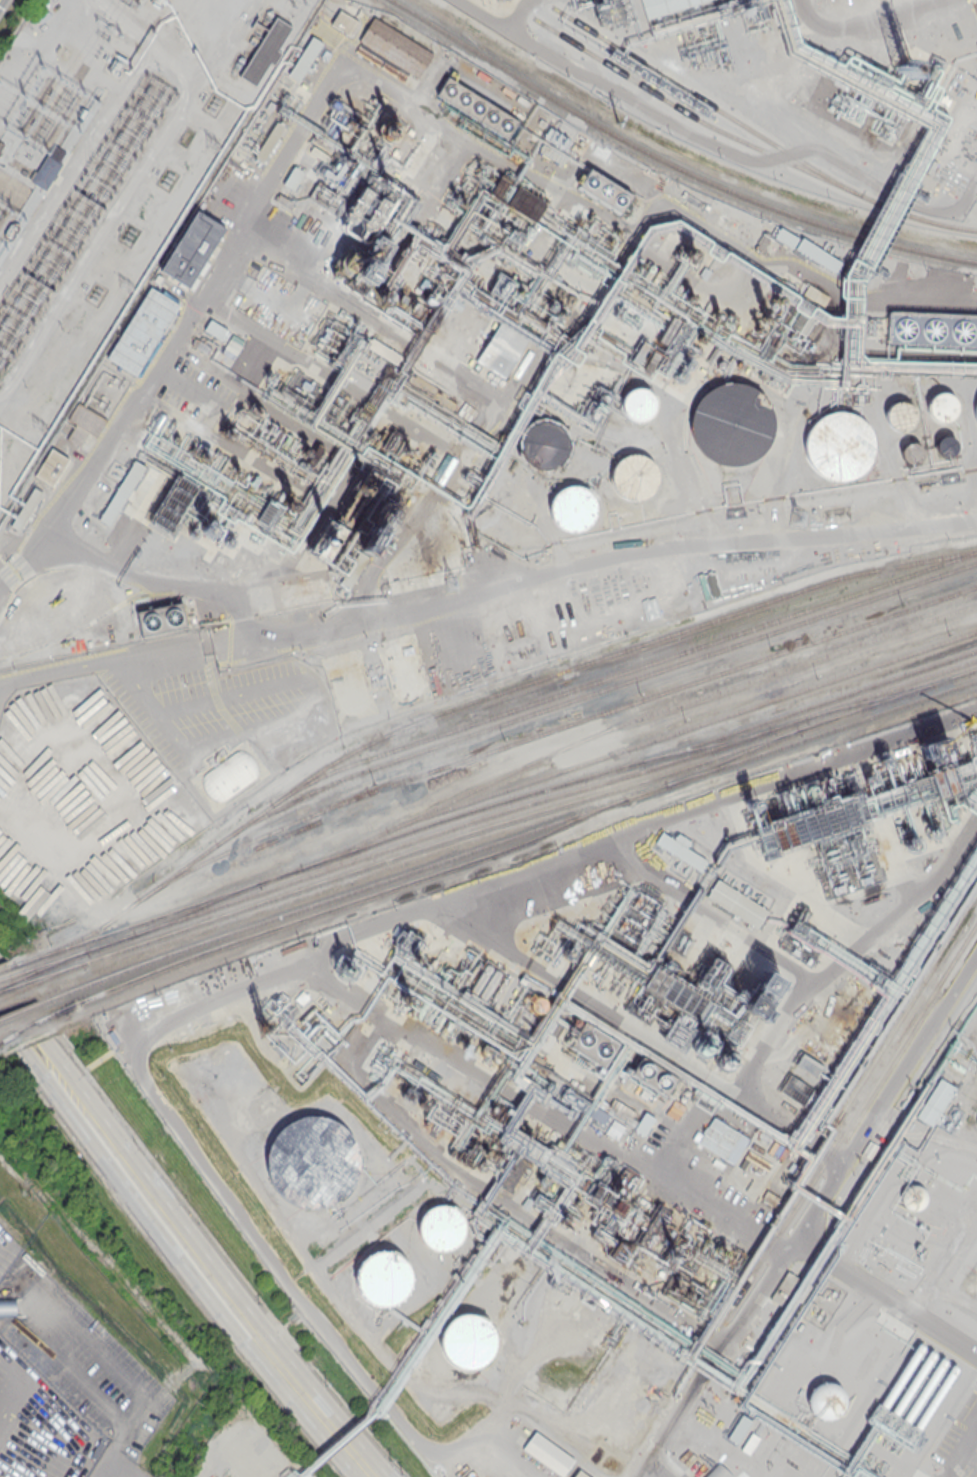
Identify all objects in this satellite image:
power tower: (300, 6)
building: (666, 6)
building: (344, 22)
building: (395, 48)
building: (265, 51)
building: (305, 59)
railway: (705, 101)
building: (475, 107)
power tower: (622, 123)
building: (270, 141)
building: (556, 142)
railway: (747, 142)
power tower: (212, 146)
railway: (670, 164)
building: (46, 171)
power substation: (106, 171)
building: (294, 176)
building: (604, 189)
building: (516, 198)
building: (276, 220)
building: (735, 225)
building: (785, 237)
building: (761, 243)
building: (193, 248)
building: (2, 254)
building: (817, 255)
power tower: (125, 285)
building: (141, 329)
building: (932, 329)
building: (501, 351)
building: (98, 401)
building: (638, 404)
storage tank: (638, 404)
building: (940, 408)
storage tank: (940, 408)
building: (899, 415)
storage tank: (899, 415)
building: (733, 422)
storage tank: (733, 422)
power tower: (39, 428)
building: (839, 443)
storage tank: (839, 443)
building: (545, 445)
storage tank: (545, 445)
building: (945, 445)
storage tank: (945, 445)
building: (910, 453)
storage tank: (910, 453)
building: (53, 466)
building: (634, 476)
storage tank: (634, 476)
building: (121, 492)
building: (26, 508)
building: (573, 509)
storage tank: (573, 509)
building: (168, 513)
power tower: (797, 518)
building: (327, 540)
road: (40, 554)
power tower: (453, 584)
building: (162, 618)
road: (118, 672)
railway: (621, 672)
railway: (592, 692)
railway: (486, 696)
railway: (632, 720)
railway: (681, 728)
railway: (552, 729)
building: (934, 749)
railway: (732, 757)
railway: (512, 798)
railway: (859, 801)
railway: (514, 807)
railway: (516, 817)
road: (104, 828)
railway: (523, 833)
building: (681, 849)
building: (737, 904)
railway: (344, 905)
railway: (75, 955)
railway: (40, 956)
railway: (24, 962)
railway: (27, 971)
railway: (27, 975)
railway: (28, 983)
building: (490, 986)
road: (30, 997)
railway: (46, 1000)
building: (538, 1004)
storage tank: (538, 1004)
railway: (905, 1010)
railway: (10, 1015)
building: (527, 1021)
storage tank: (527, 1021)
railway: (40, 1022)
building: (595, 1043)
building: (808, 1064)
building: (653, 1077)
road: (62, 1083)
building: (796, 1089)
building: (936, 1101)
railway: (862, 1103)
building: (581, 1107)
building: (622, 1110)
building: (644, 1123)
building: (719, 1138)
building: (312, 1160)
storage tank: (312, 1160)
building: (463, 1195)
building: (911, 1197)
storage tank: (911, 1197)
building: (441, 1227)
storage tank: (441, 1227)
parking lot: (7, 1246)
road: (234, 1257)
building: (384, 1279)
storage tank: (384, 1279)
road: (886, 1299)
road: (228, 1303)
building: (8, 1307)
building: (467, 1340)
storage tank: (467, 1340)
road: (89, 1342)
parking lot: (76, 1346)
road: (74, 1373)
road: (24, 1387)
building: (826, 1400)
storage tank: (826, 1400)
parking lot: (39, 1425)
road: (118, 1441)
building: (548, 1453)
road: (111, 1471)
road: (660, 1471)
building: (718, 1471)
building: (579, 1474)

